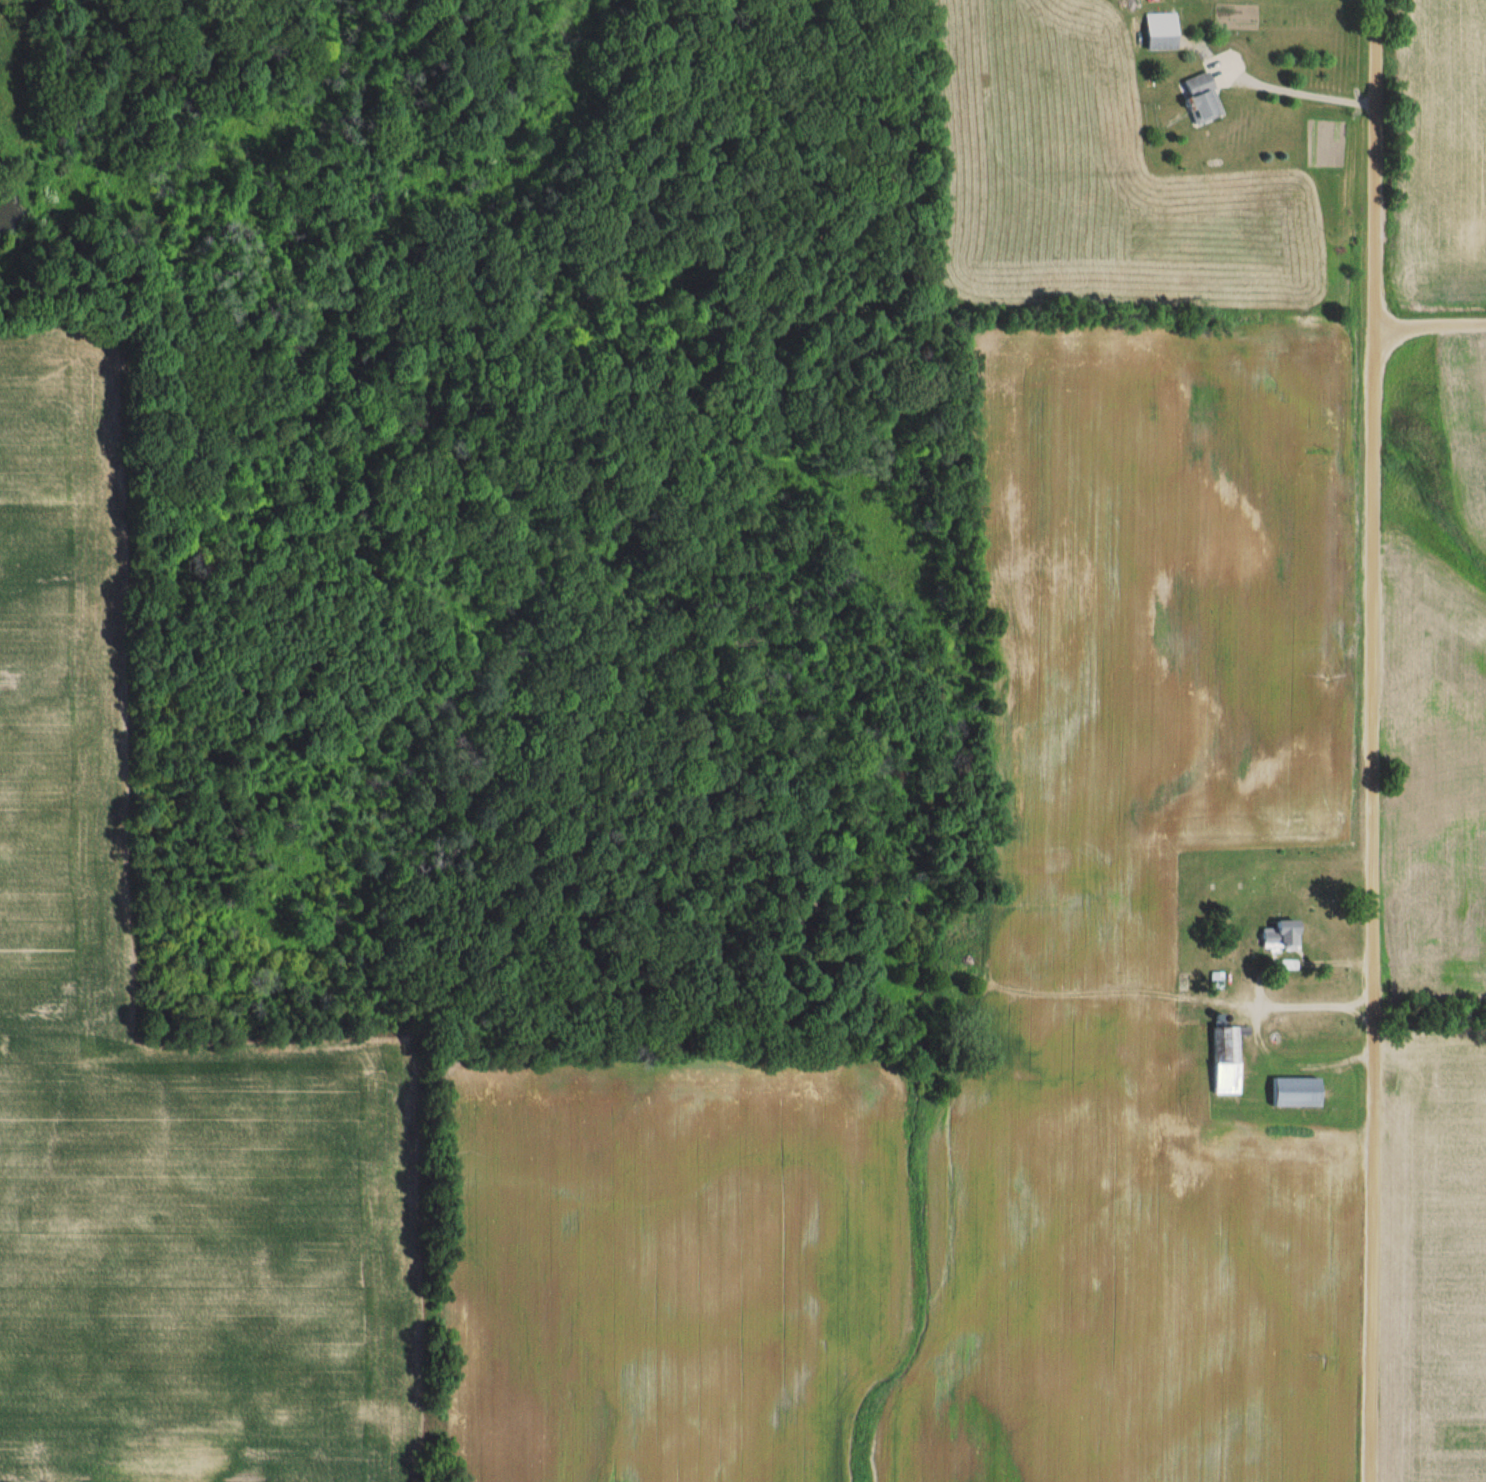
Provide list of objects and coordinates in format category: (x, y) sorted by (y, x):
building: (1160, 35)
road: (1291, 81)
building: (1200, 99)
road: (1429, 326)
road: (1371, 741)
building: (1280, 935)
road: (1346, 1006)
road: (1260, 1042)
building: (1225, 1060)
building: (1295, 1092)

